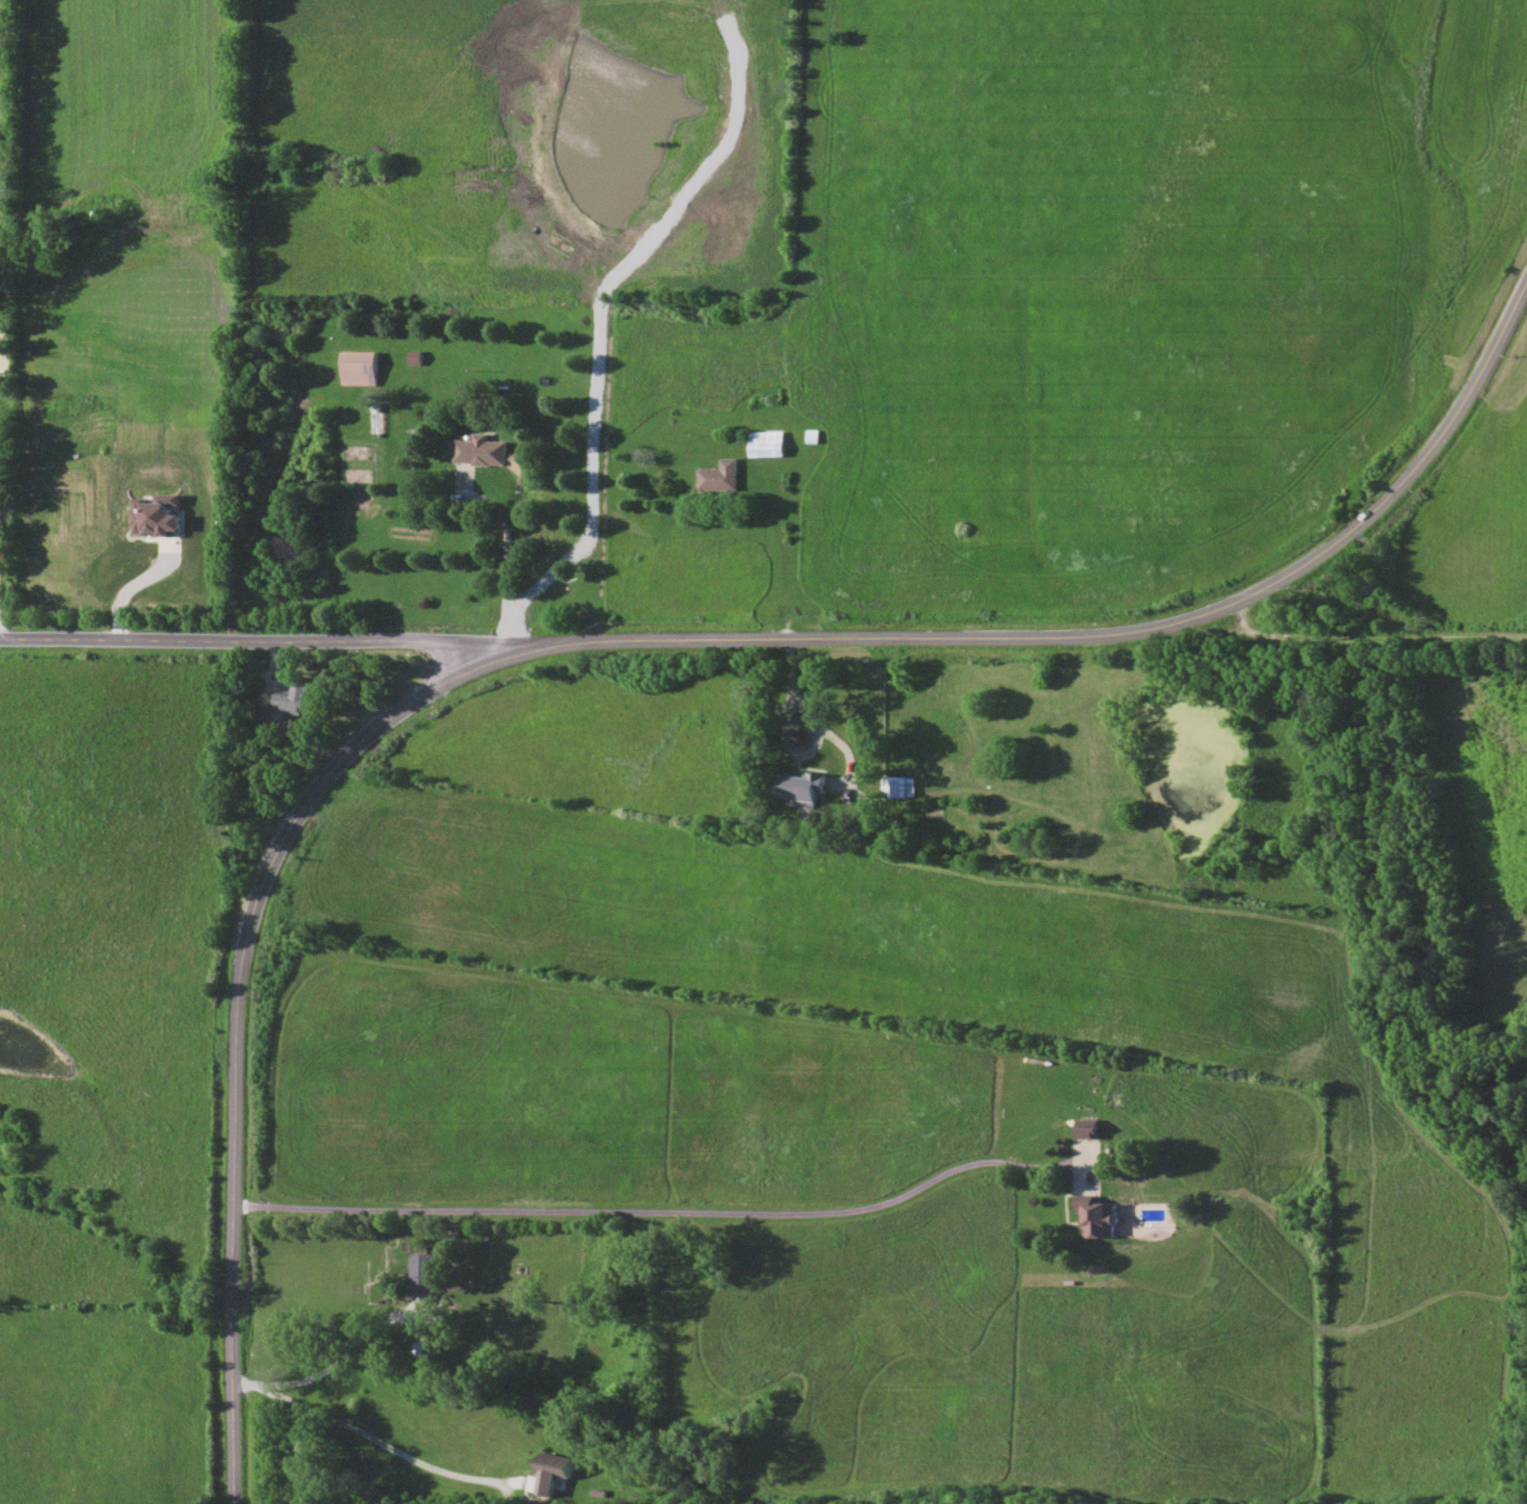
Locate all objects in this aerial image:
building: (5, 347)
building: (359, 368)
building: (481, 451)
building: (721, 476)
road: (1399, 493)
building: (157, 515)
building: (1, 516)
road: (507, 546)
road: (137, 585)
road: (260, 640)
road: (862, 641)
road: (447, 658)
building: (296, 696)
road: (816, 734)
building: (799, 787)
road: (234, 1011)
building: (1089, 1128)
road: (664, 1212)
building: (1097, 1217)
building: (424, 1273)
road: (340, 1363)
road: (367, 1434)
building: (553, 1472)

